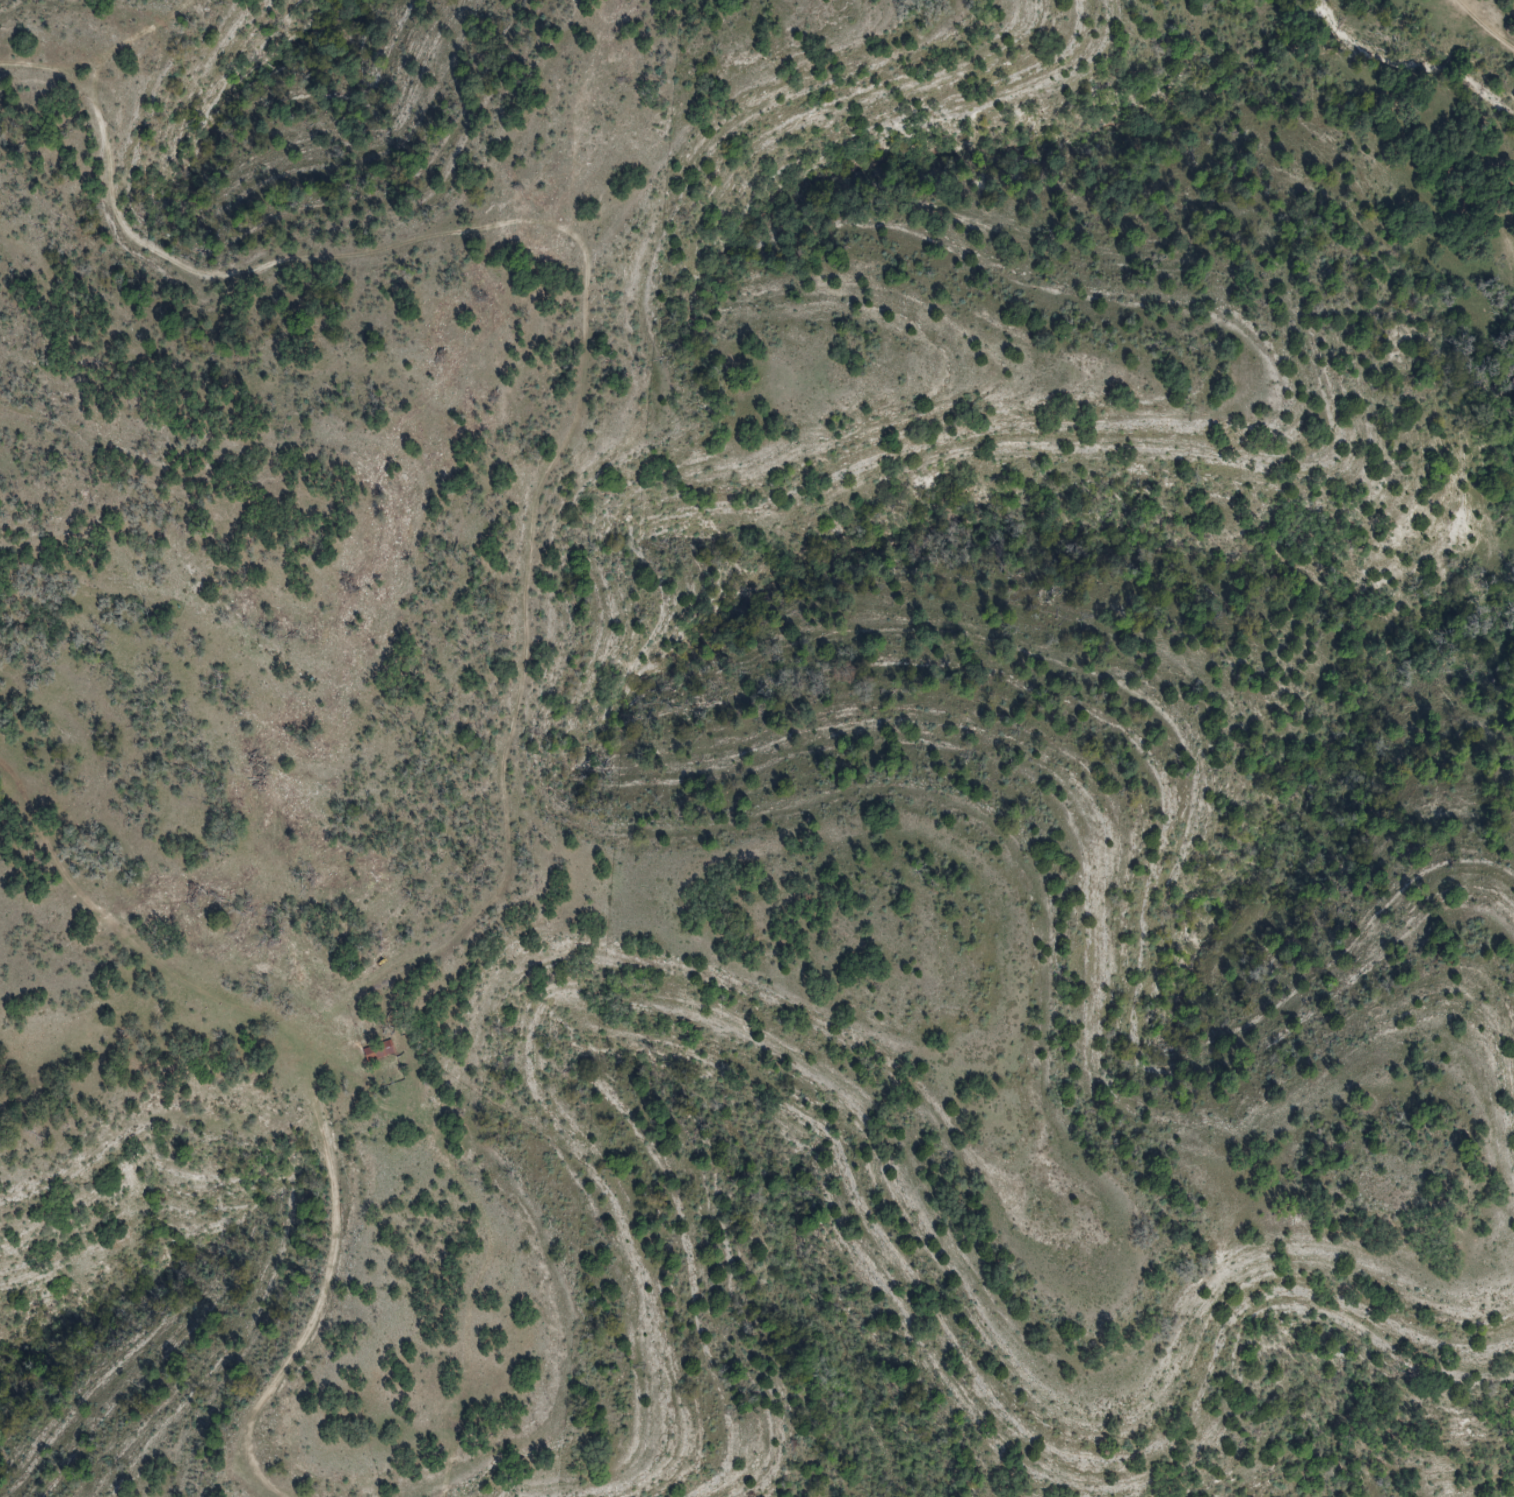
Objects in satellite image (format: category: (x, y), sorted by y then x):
building: (376, 1050)

